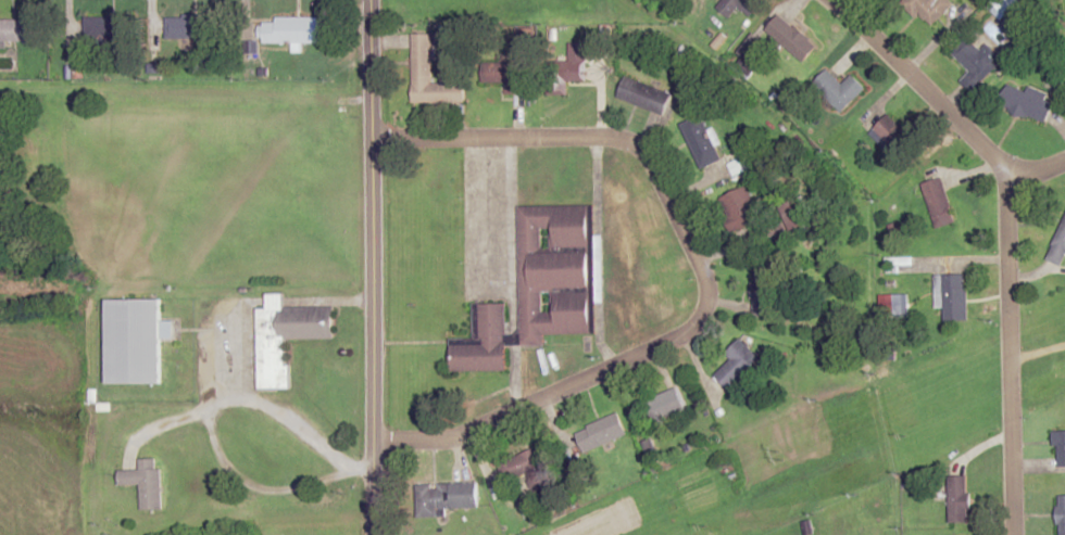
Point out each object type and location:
building: (739, 7)
building: (929, 9)
building: (189, 26)
building: (108, 28)
building: (292, 29)
building: (17, 30)
building: (792, 37)
building: (977, 62)
building: (567, 71)
building: (505, 75)
building: (431, 76)
building: (840, 89)
building: (643, 94)
building: (1027, 102)
building: (892, 136)
building: (701, 141)
road: (1037, 171)
building: (939, 202)
building: (740, 209)
building: (794, 215)
road: (1008, 231)
building: (1060, 246)
road: (363, 267)
road: (700, 270)
building: (554, 271)
building: (764, 294)
building: (952, 296)
building: (893, 306)
building: (286, 336)
building: (136, 341)
building: (484, 342)
road: (1037, 352)
building: (738, 364)
building: (664, 408)
building: (601, 433)
road: (316, 445)
building: (1060, 448)
building: (534, 470)
building: (145, 483)
building: (444, 498)
building: (960, 499)
building: (1061, 514)

